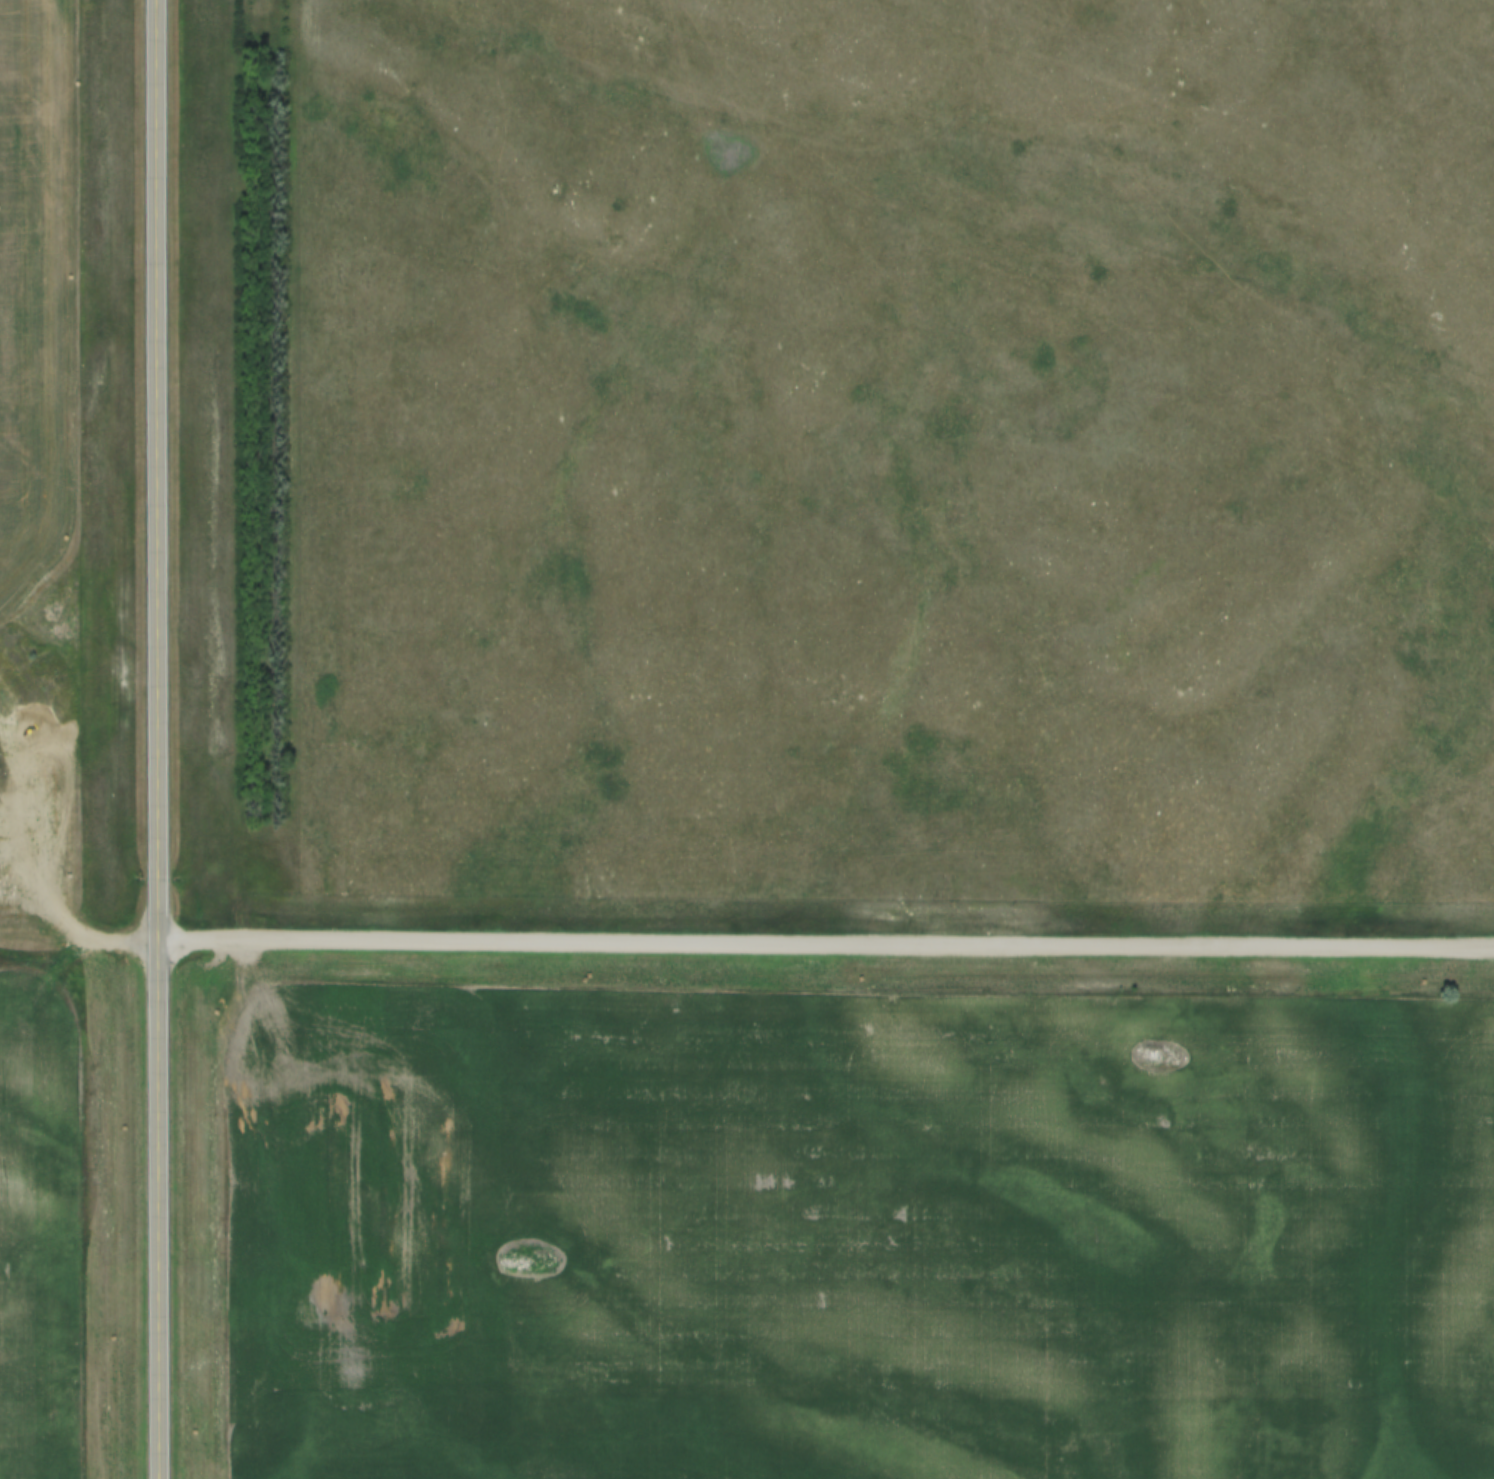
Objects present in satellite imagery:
road: (158, 739)
road: (827, 945)

